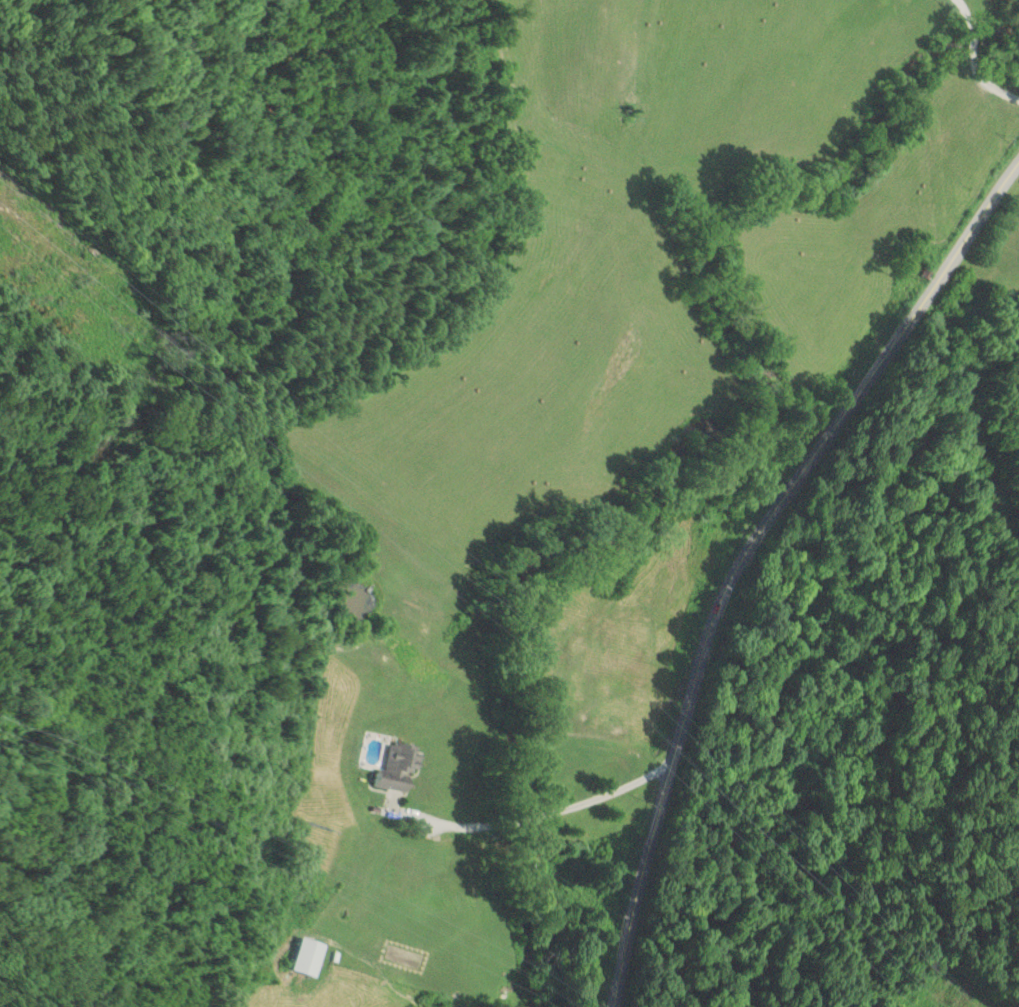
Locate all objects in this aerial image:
road: (748, 552)
building: (399, 768)
building: (309, 956)

